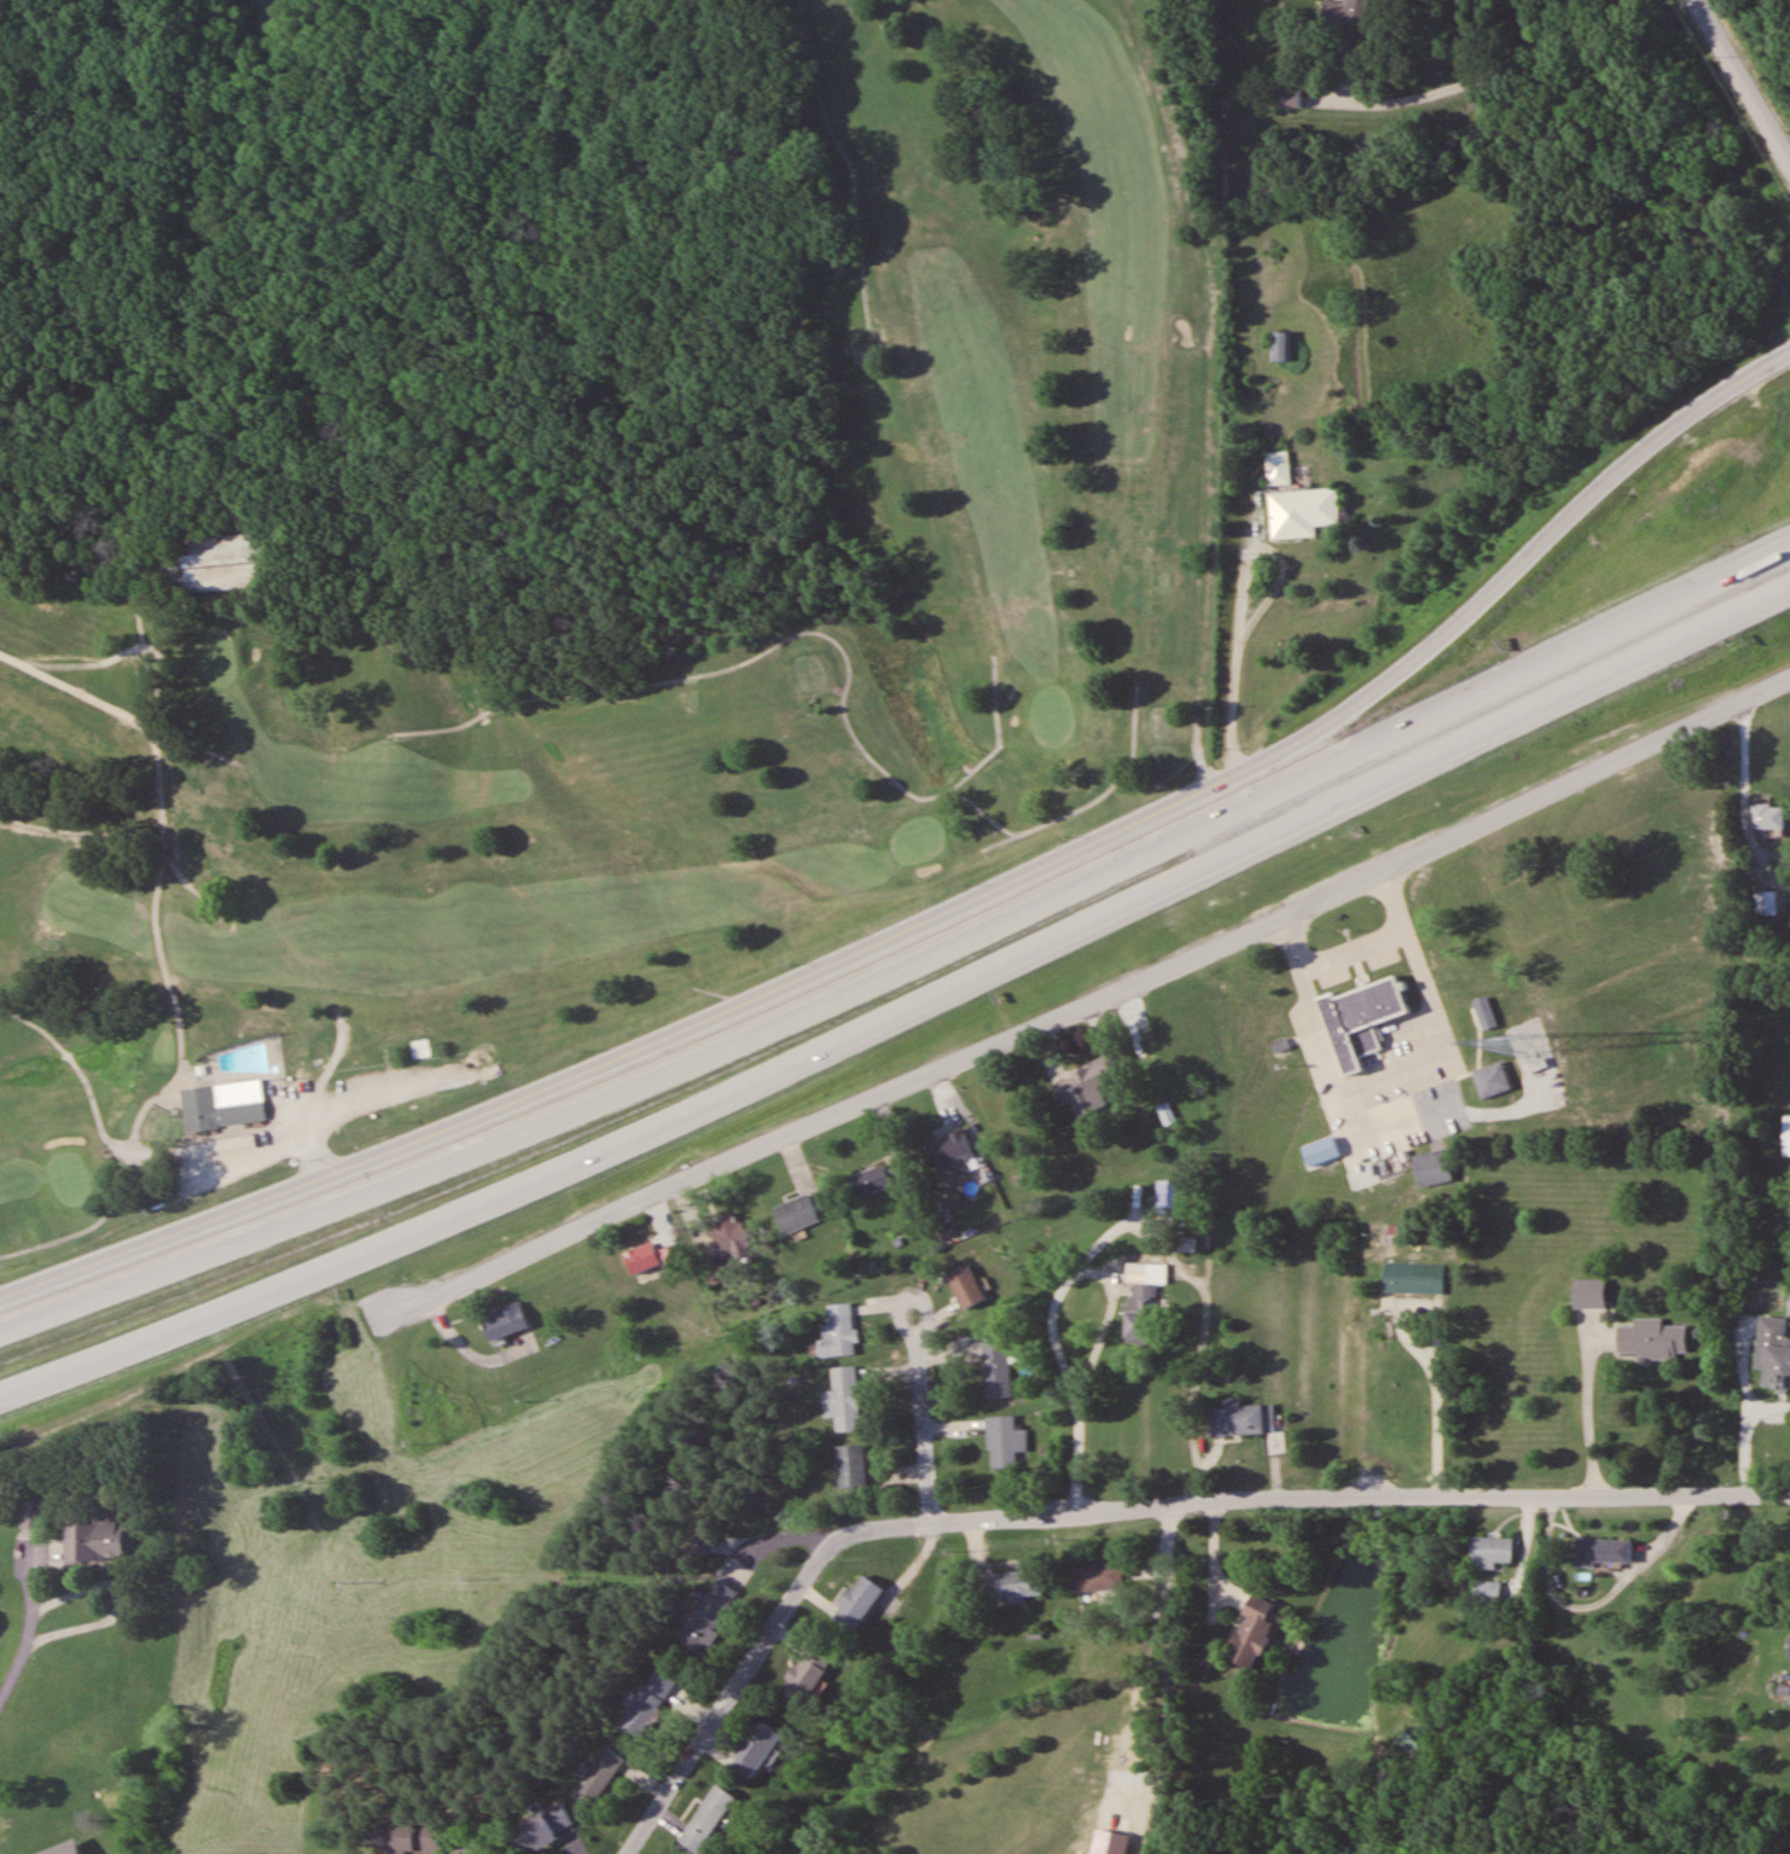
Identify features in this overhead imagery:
building: (1341, 22)
park: (219, 60)
road: (1739, 85)
building: (1290, 98)
building: (1280, 345)
building: (1278, 467)
building: (1302, 510)
building: (227, 562)
park: (629, 661)
building: (1765, 816)
road: (941, 908)
road: (906, 966)
road: (1091, 998)
road: (903, 1013)
building: (1359, 1019)
building: (1492, 1081)
building: (1085, 1086)
building: (222, 1105)
building: (1789, 1140)
building: (952, 1153)
building: (1431, 1169)
building: (874, 1180)
building: (1168, 1197)
building: (796, 1214)
building: (1395, 1231)
building: (730, 1234)
building: (670, 1255)
building: (640, 1260)
building: (1146, 1274)
building: (1412, 1279)
building: (965, 1289)
building: (1588, 1295)
building: (1789, 1303)
building: (1139, 1314)
building: (505, 1321)
building: (838, 1331)
building: (1652, 1339)
building: (1773, 1353)
building: (995, 1370)
building: (845, 1399)
building: (1242, 1419)
road: (923, 1422)
building: (1005, 1442)
building: (852, 1466)
road: (1308, 1500)
building: (31, 1515)
building: (94, 1541)
building: (1490, 1551)
building: (1602, 1553)
building: (1098, 1576)
building: (1018, 1583)
building: (1487, 1592)
building: (856, 1604)
building: (707, 1618)
building: (1251, 1632)
building: (1789, 1649)
road: (21, 1650)
building: (807, 1676)
road: (727, 1699)
building: (647, 1703)
building: (1412, 1739)
building: (756, 1750)
building: (598, 1777)
building: (560, 1817)
building: (707, 1819)
building: (530, 1833)
building: (406, 1838)
building: (1116, 1843)
park: (1518, 1844)

